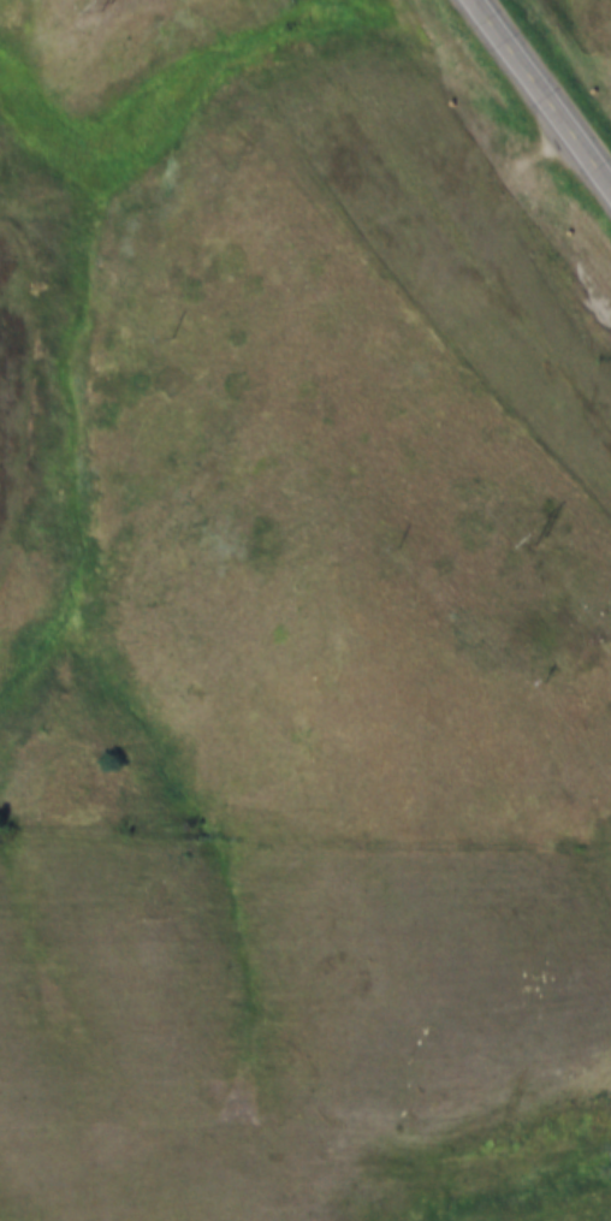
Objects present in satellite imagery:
power tower: (96, 7)
road: (545, 89)
power tower: (529, 541)

